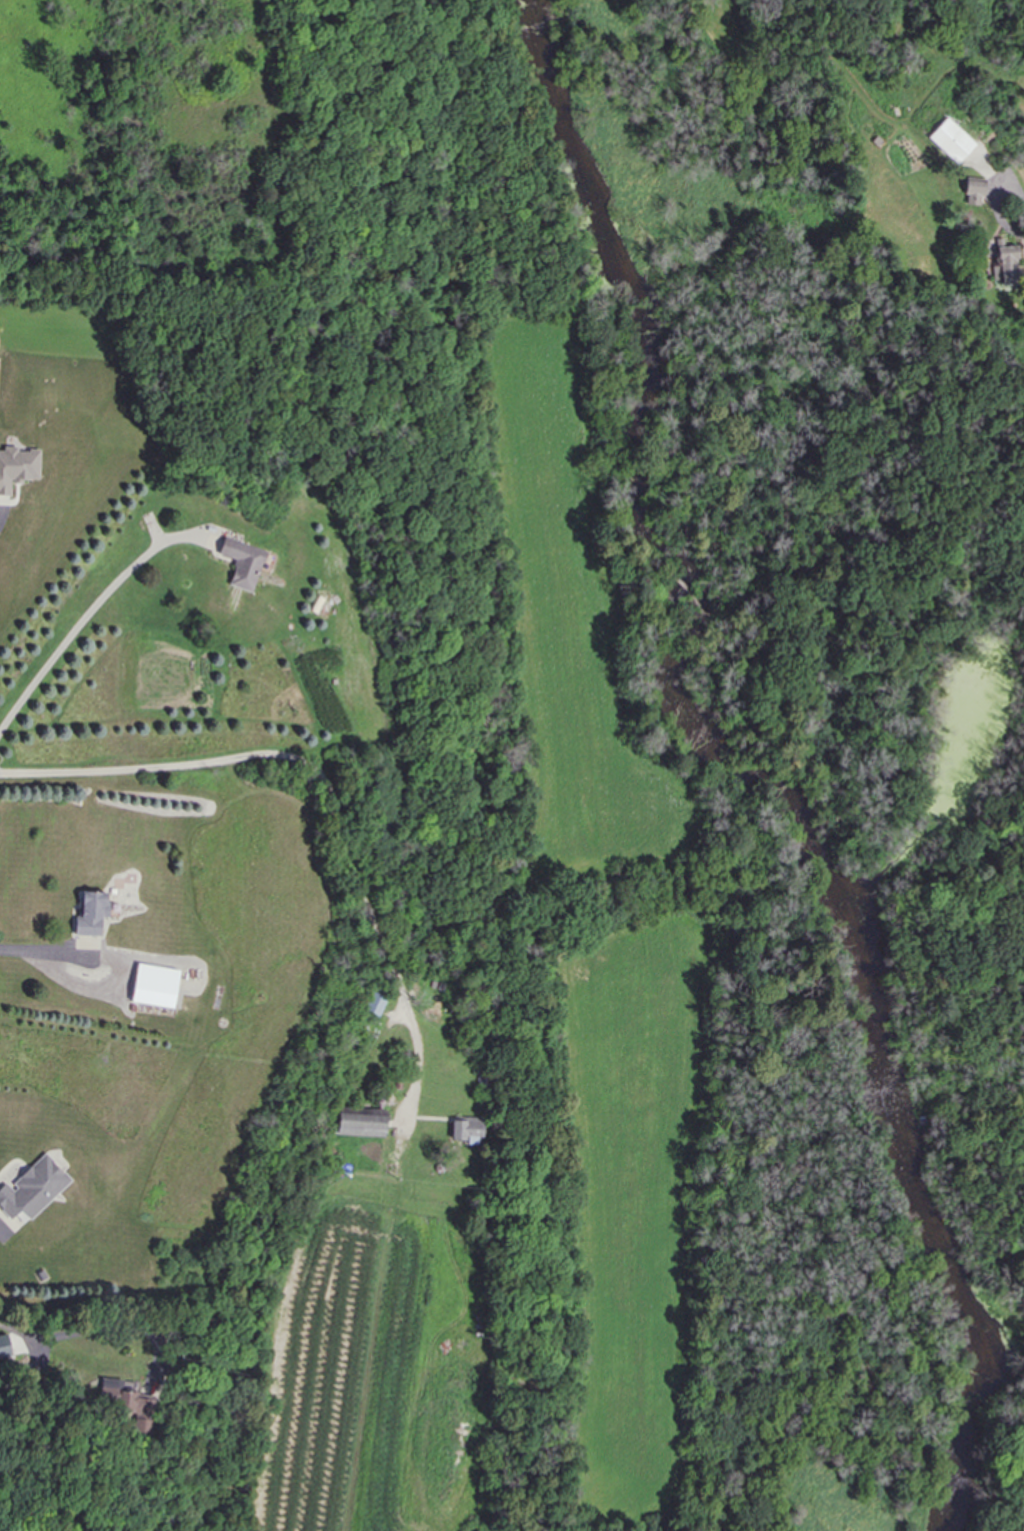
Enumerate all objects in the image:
building: (952, 140)
building: (974, 190)
road: (991, 201)
building: (1006, 265)
road: (574, 291)
building: (18, 467)
building: (243, 563)
road: (683, 588)
road: (87, 614)
road: (869, 681)
river: (739, 763)
road: (329, 793)
building: (92, 913)
road: (29, 950)
building: (155, 986)
building: (376, 1003)
building: (361, 1122)
building: (467, 1128)
building: (33, 1189)
building: (5, 1347)
building: (131, 1405)
road: (1018, 1491)

